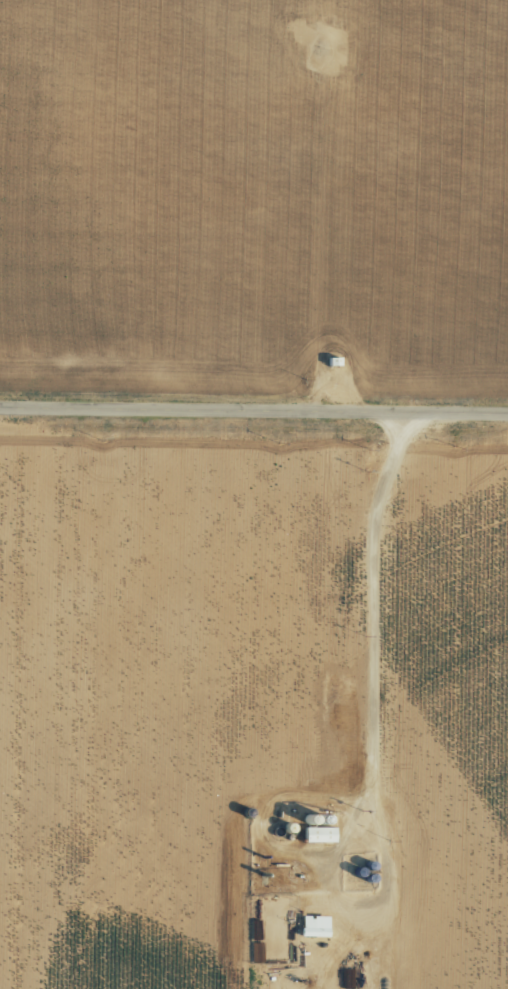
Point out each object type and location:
road: (254, 418)
road: (372, 766)

